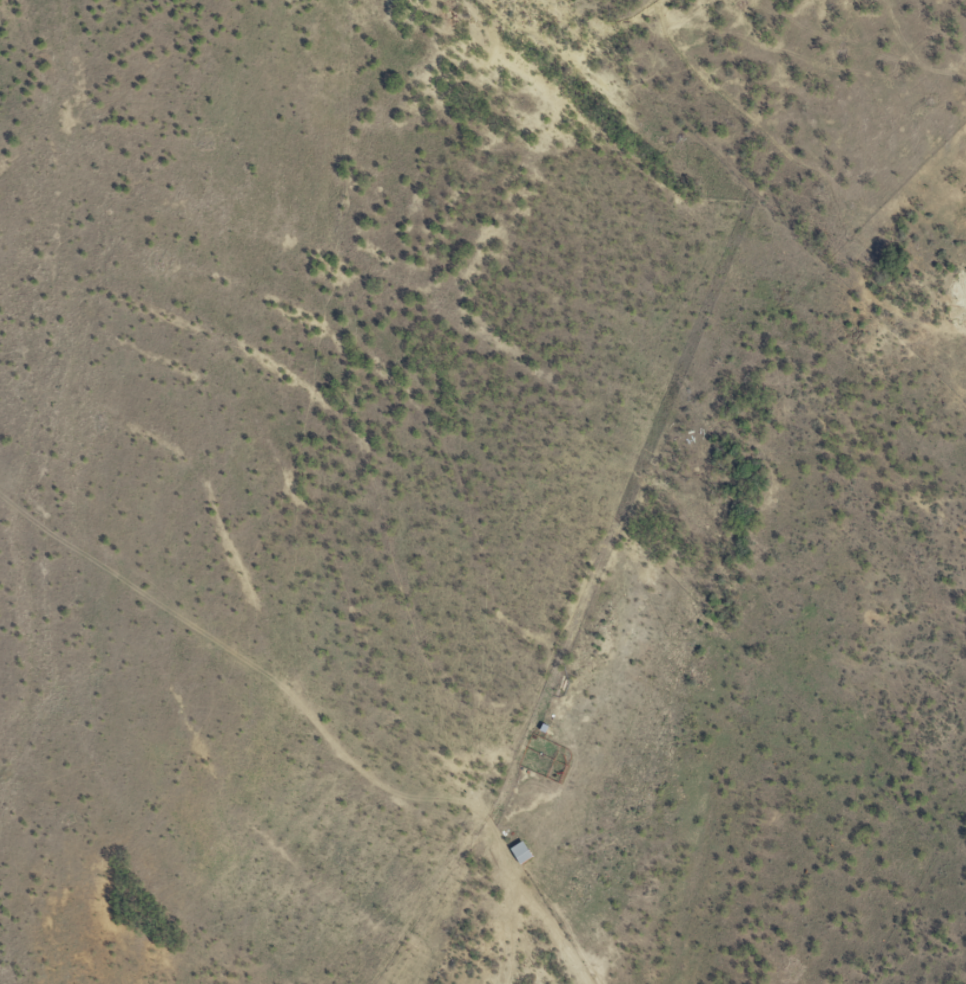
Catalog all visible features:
road: (373, 321)
road: (689, 559)
building: (517, 851)

